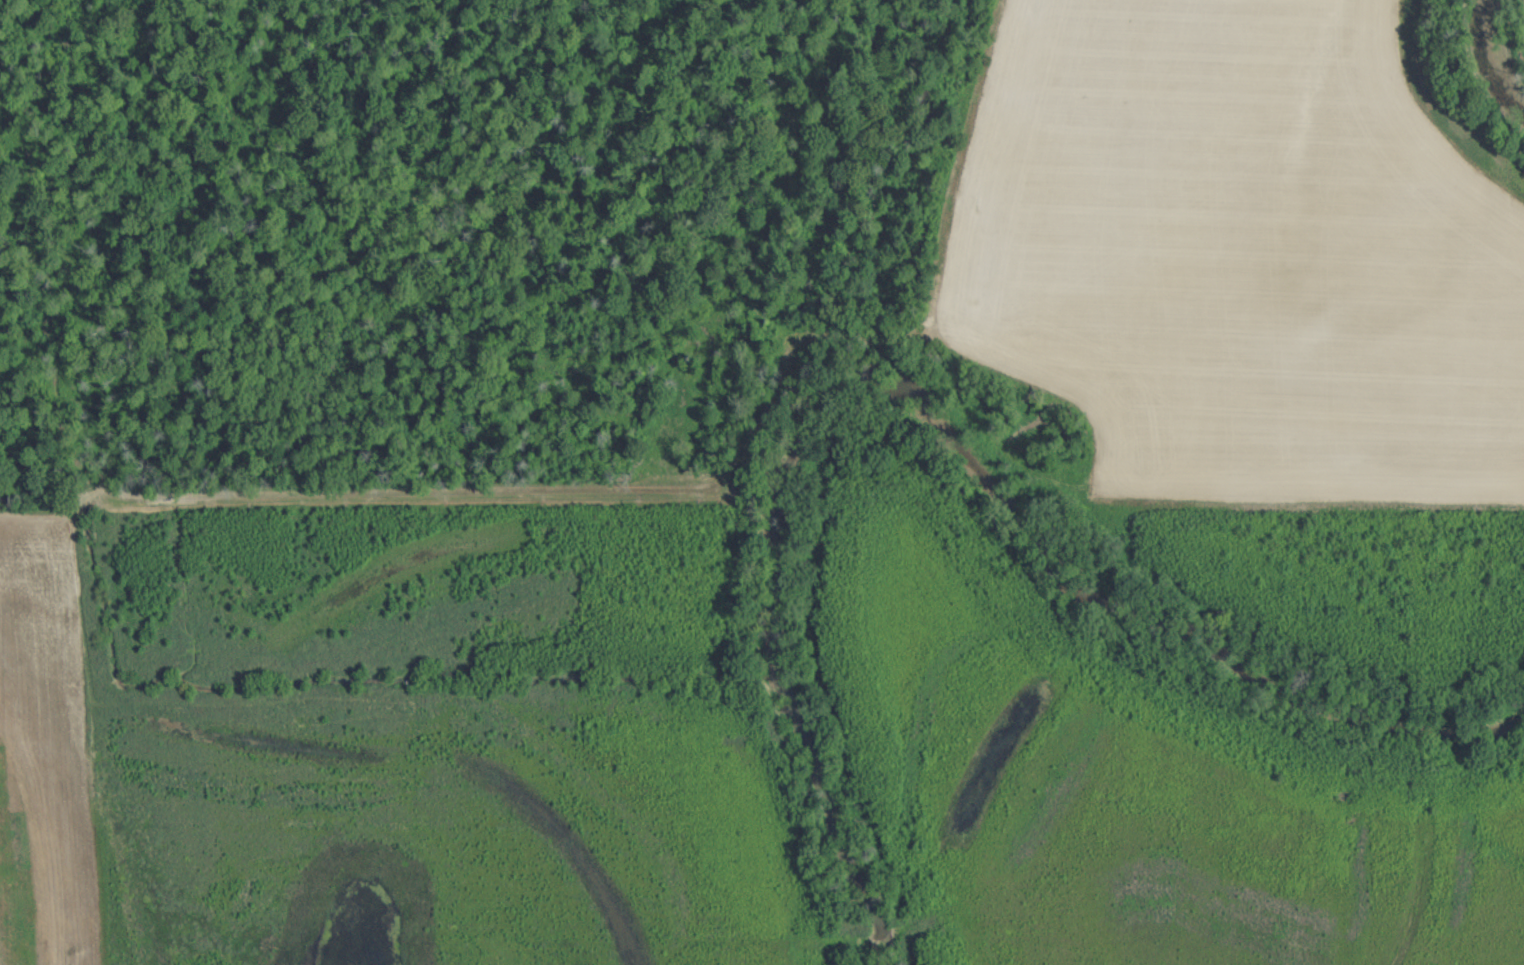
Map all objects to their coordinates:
river: (1467, 69)
river: (958, 428)

